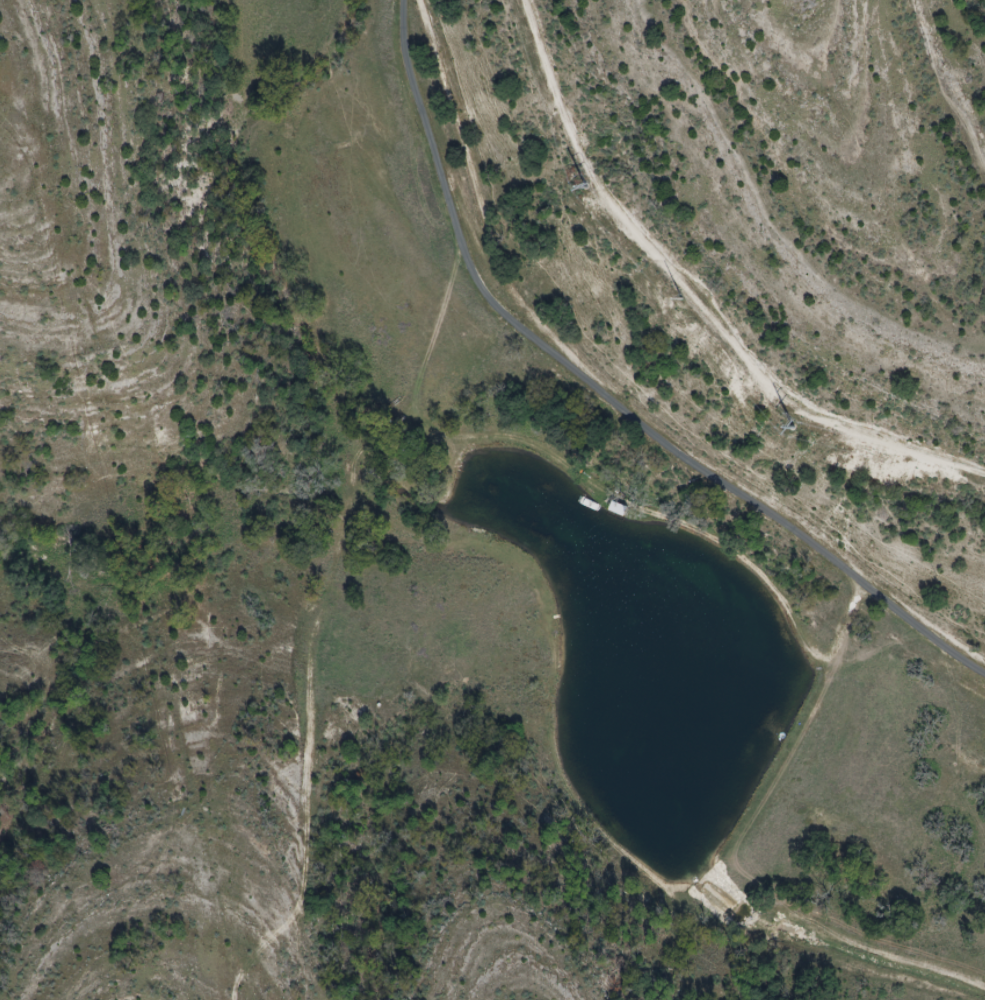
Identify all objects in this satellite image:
power tower: (587, 188)
power tower: (683, 299)
road: (617, 393)
power tower: (794, 428)

